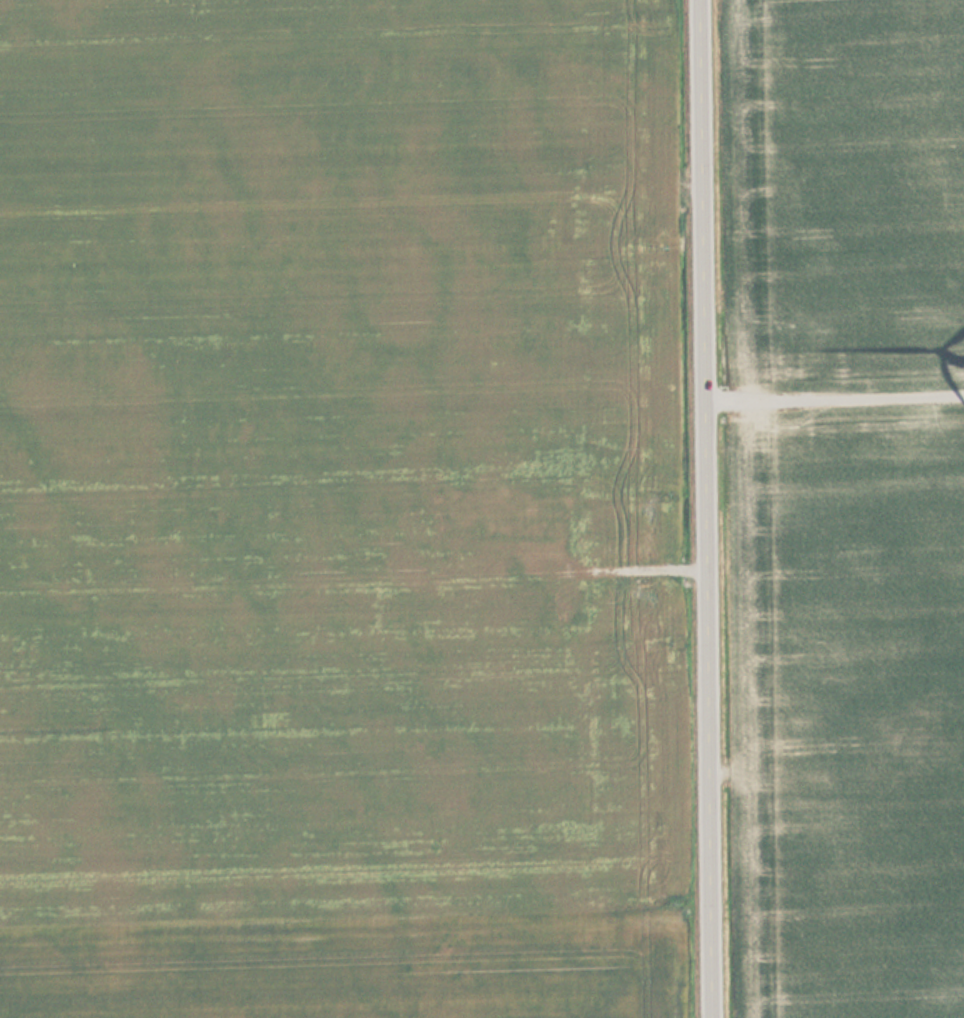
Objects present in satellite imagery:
road: (836, 398)
road: (710, 509)

